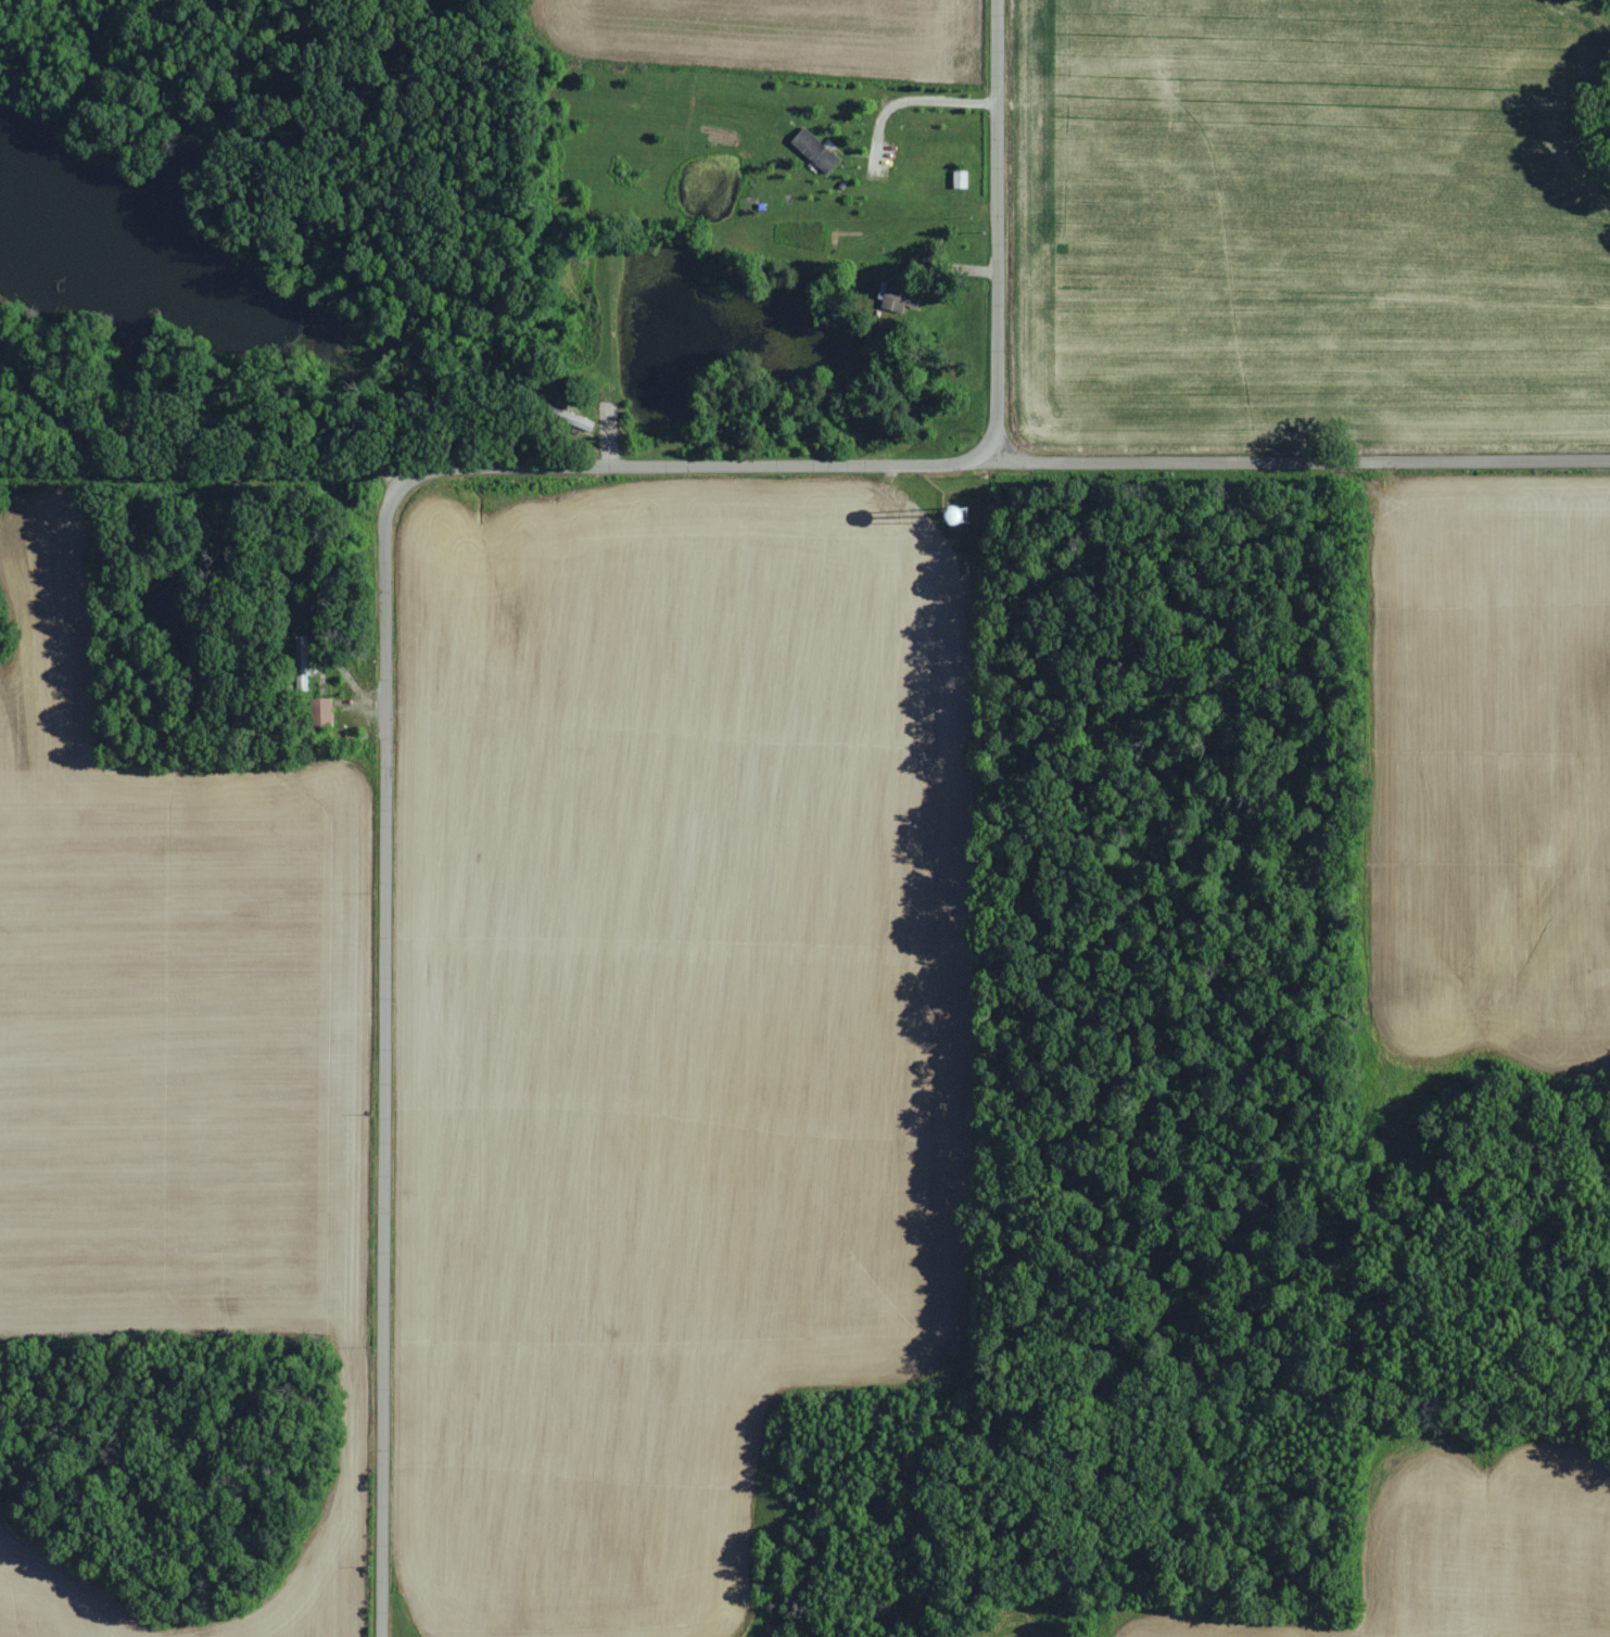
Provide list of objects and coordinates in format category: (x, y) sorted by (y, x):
road: (908, 105)
building: (817, 151)
road: (994, 231)
road: (50, 402)
building: (582, 423)
road: (1002, 462)
road: (198, 467)
building: (320, 710)
road: (382, 1052)

